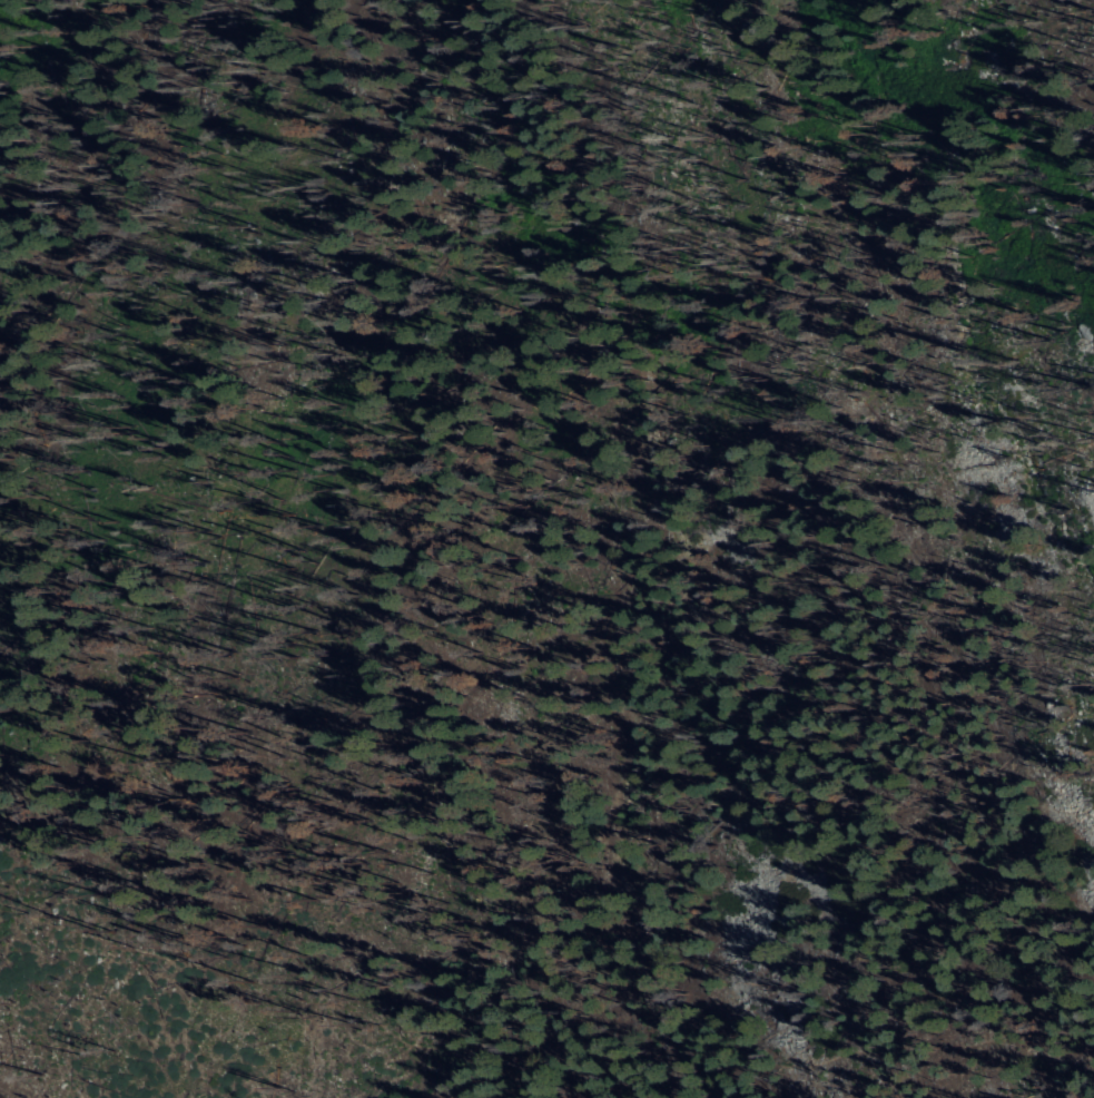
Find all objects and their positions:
road: (275, 996)
road: (829, 1053)

